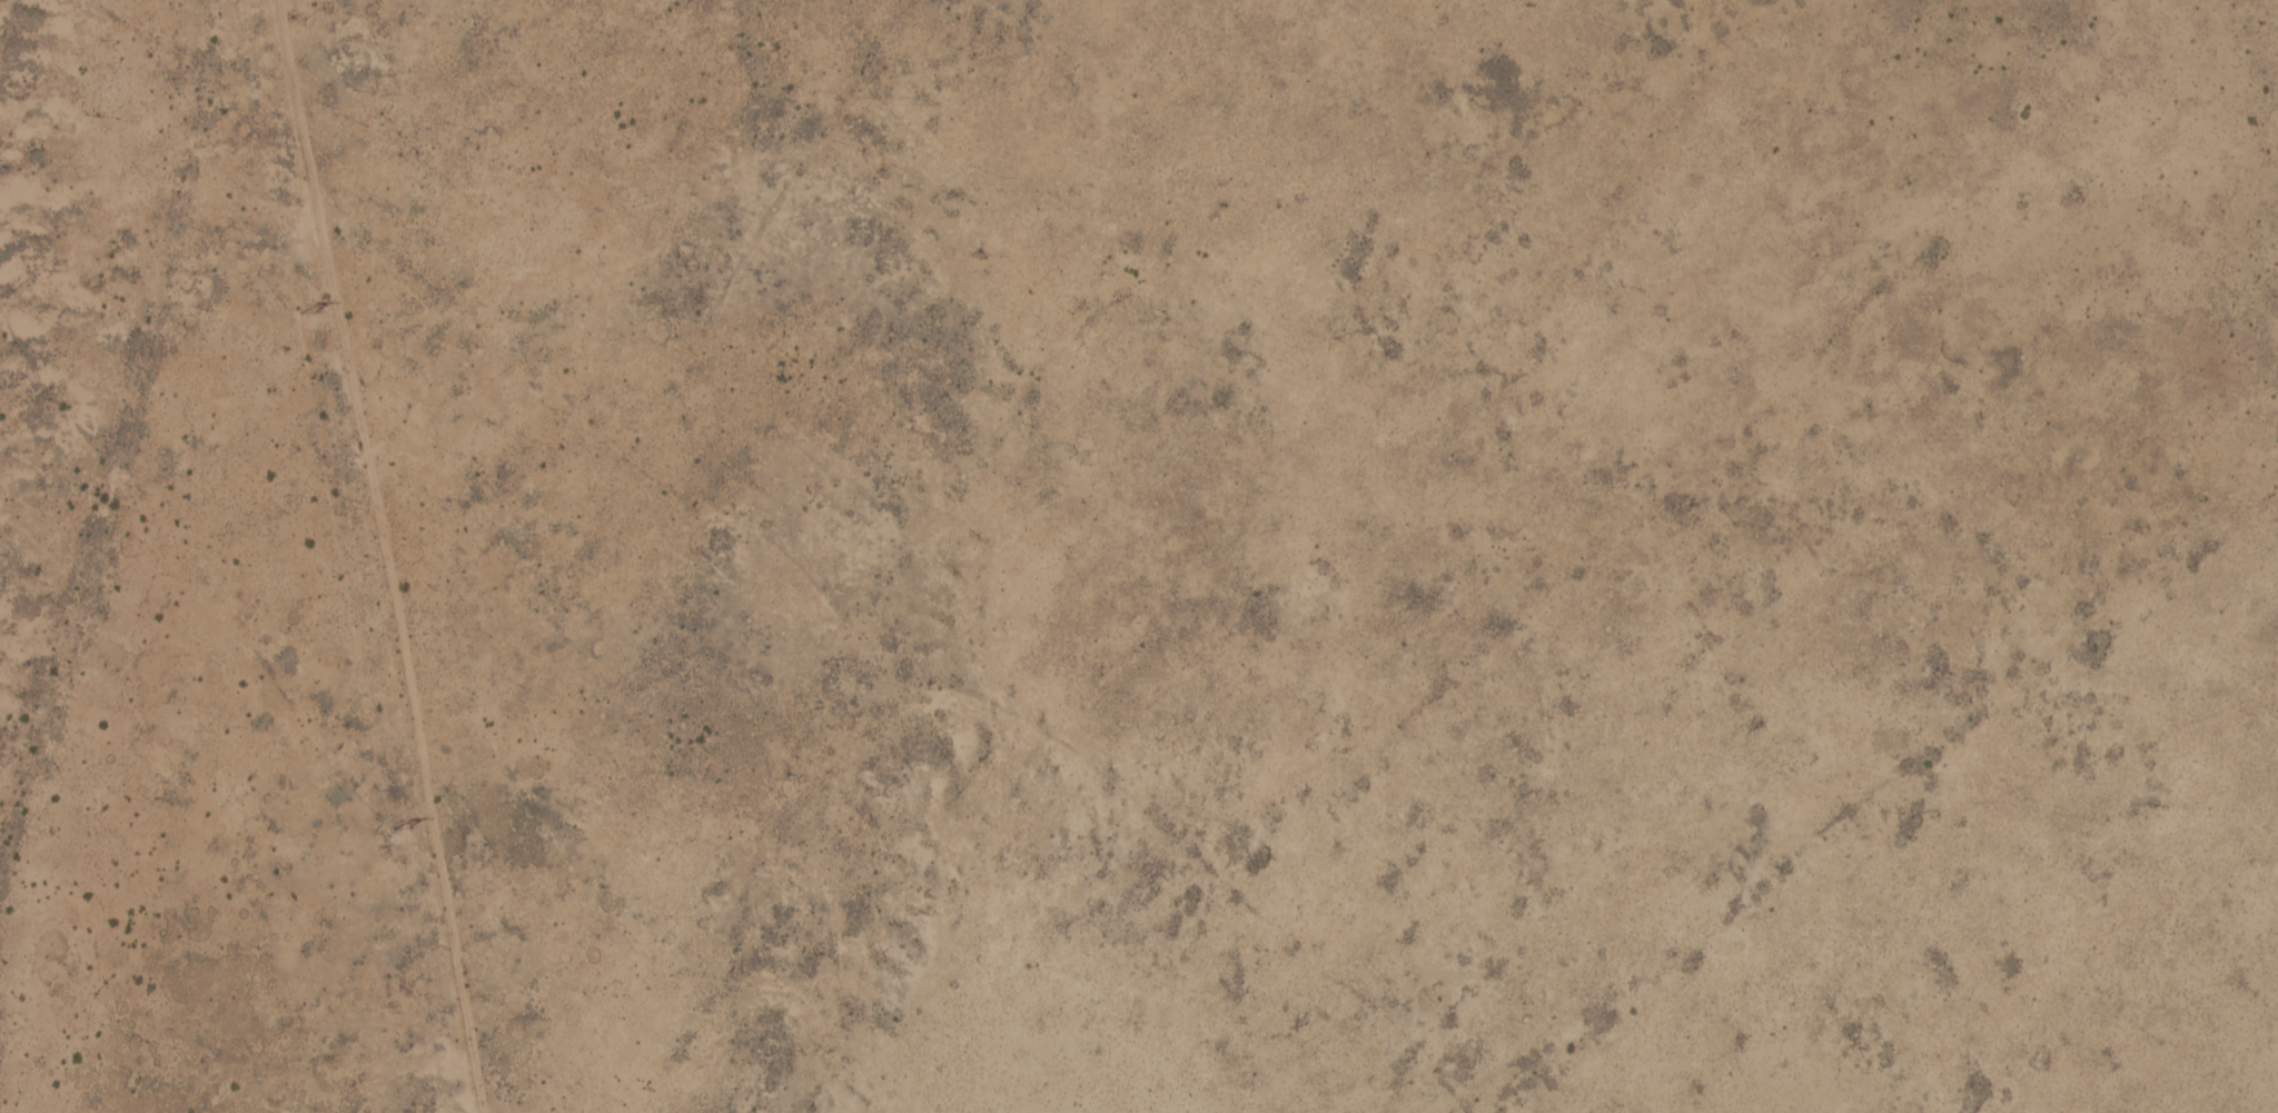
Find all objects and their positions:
power tower: (308, 315)
road: (388, 556)
power tower: (402, 828)

